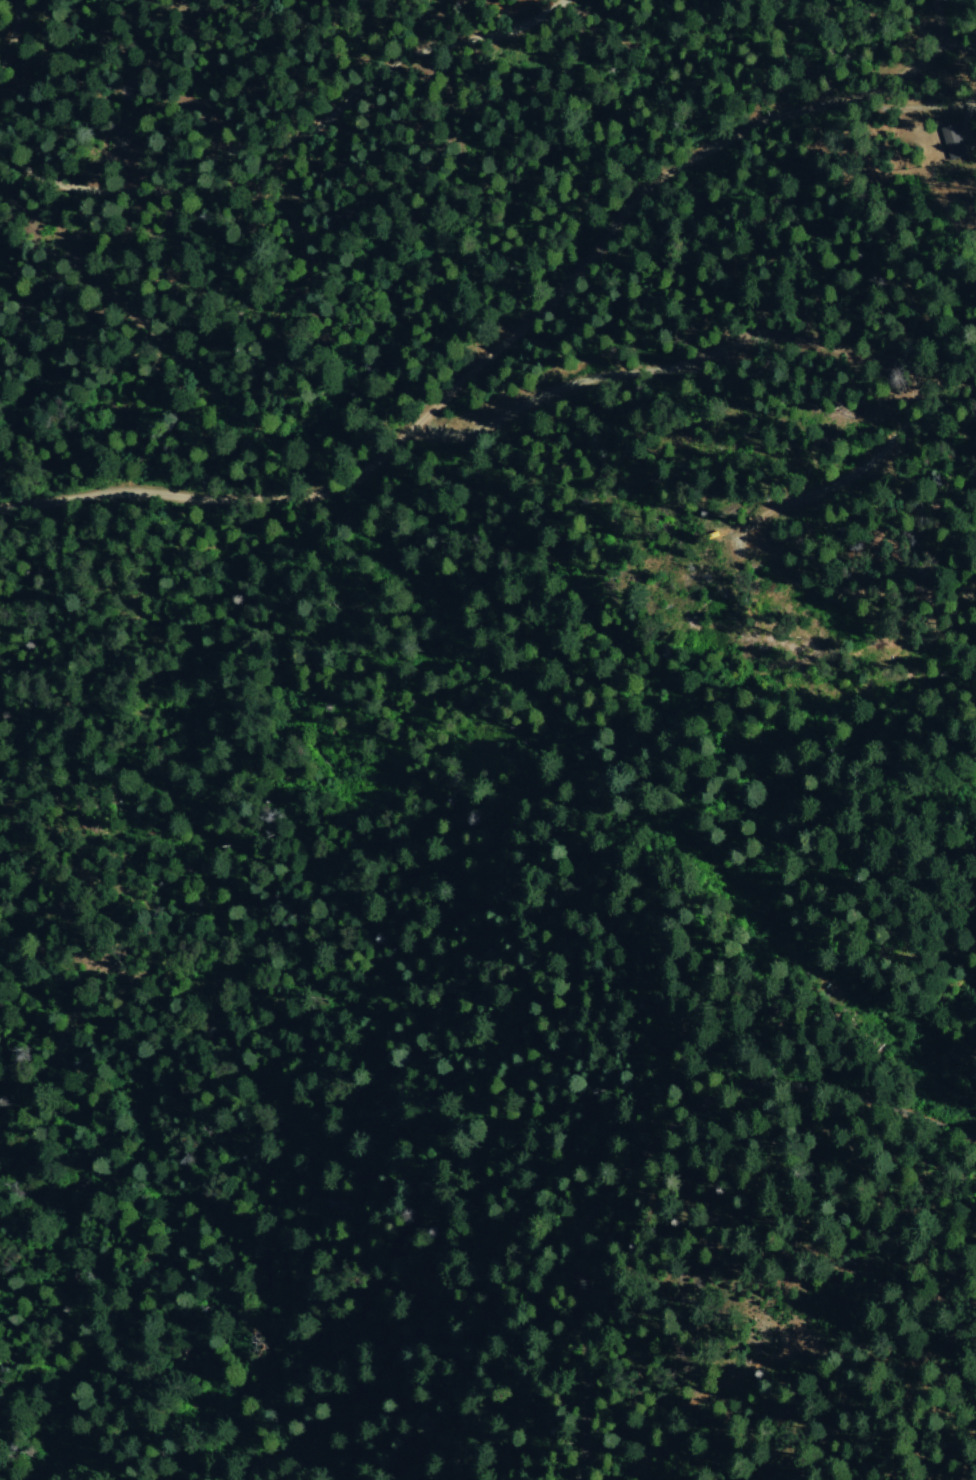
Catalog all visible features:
road: (9, 38)
road: (908, 102)
road: (297, 146)
road: (508, 330)
road: (649, 1148)
road: (881, 1361)
road: (948, 1376)
road: (690, 1404)

